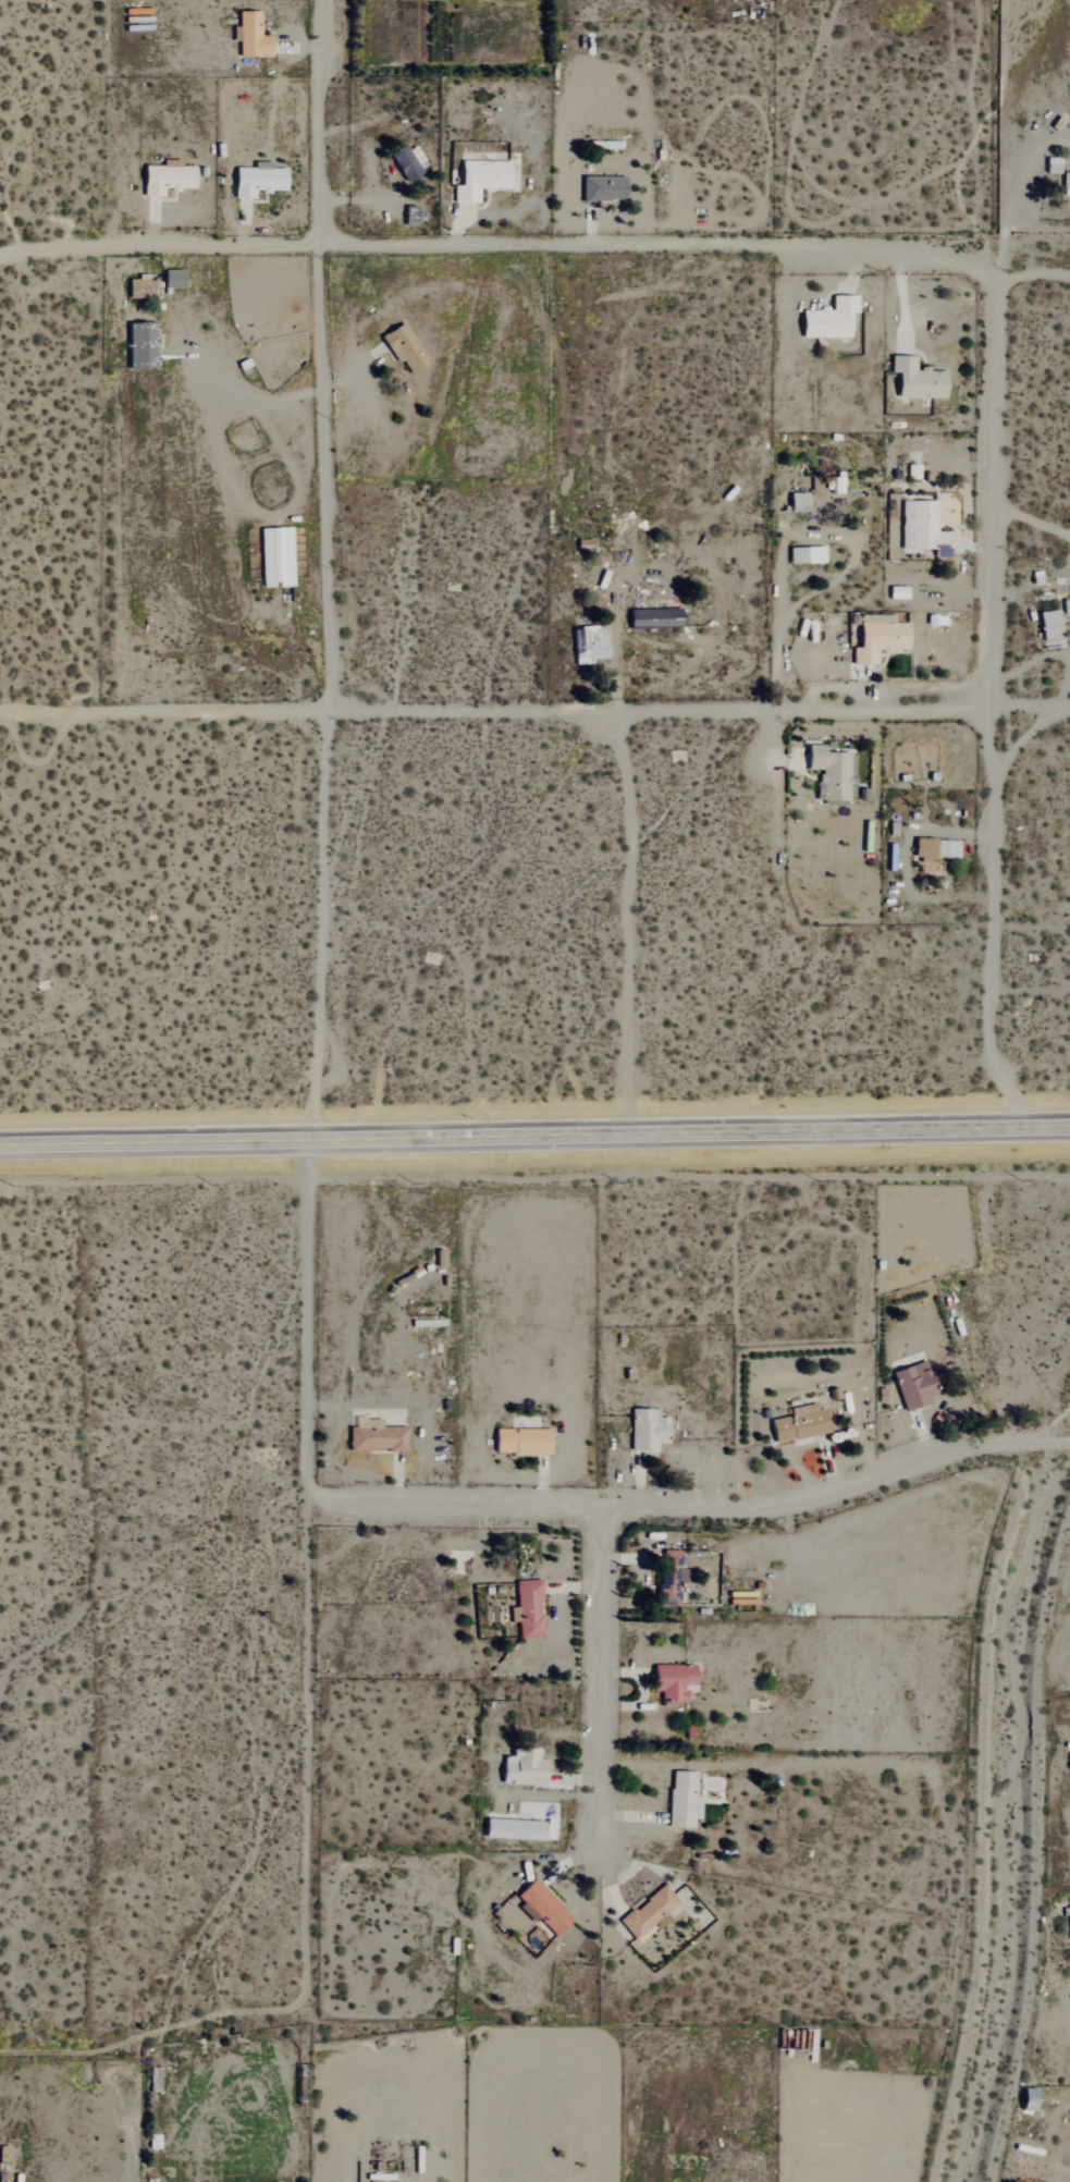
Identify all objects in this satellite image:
building: (250, 37)
road: (304, 47)
building: (407, 162)
building: (165, 179)
building: (257, 180)
building: (479, 180)
building: (1066, 185)
building: (602, 189)
road: (353, 199)
road: (153, 224)
road: (244, 224)
road: (459, 228)
road: (590, 228)
road: (499, 247)
road: (1032, 275)
building: (172, 278)
building: (136, 287)
road: (901, 302)
building: (828, 320)
building: (140, 344)
building: (403, 347)
road: (323, 355)
road: (355, 375)
road: (224, 394)
road: (999, 480)
building: (798, 502)
road: (966, 507)
road: (267, 514)
road: (1034, 519)
building: (923, 528)
building: (798, 555)
building: (275, 556)
building: (897, 591)
road: (805, 597)
building: (654, 617)
building: (1049, 628)
building: (877, 637)
building: (589, 645)
road: (536, 710)
road: (1028, 741)
building: (828, 772)
road: (775, 782)
road: (950, 832)
building: (935, 849)
road: (992, 920)
road: (329, 924)
road: (534, 1135)
building: (913, 1386)
building: (799, 1424)
building: (647, 1430)
building: (376, 1436)
building: (521, 1442)
road: (690, 1508)
building: (668, 1578)
building: (527, 1609)
road: (304, 1659)
road: (603, 1681)
building: (673, 1682)
road: (642, 1691)
building: (524, 1768)
building: (682, 1800)
road: (634, 1817)
building: (513, 1830)
building: (542, 1908)
building: (649, 1913)
building: (1069, 1922)
building: (153, 2081)
building: (1028, 2099)

